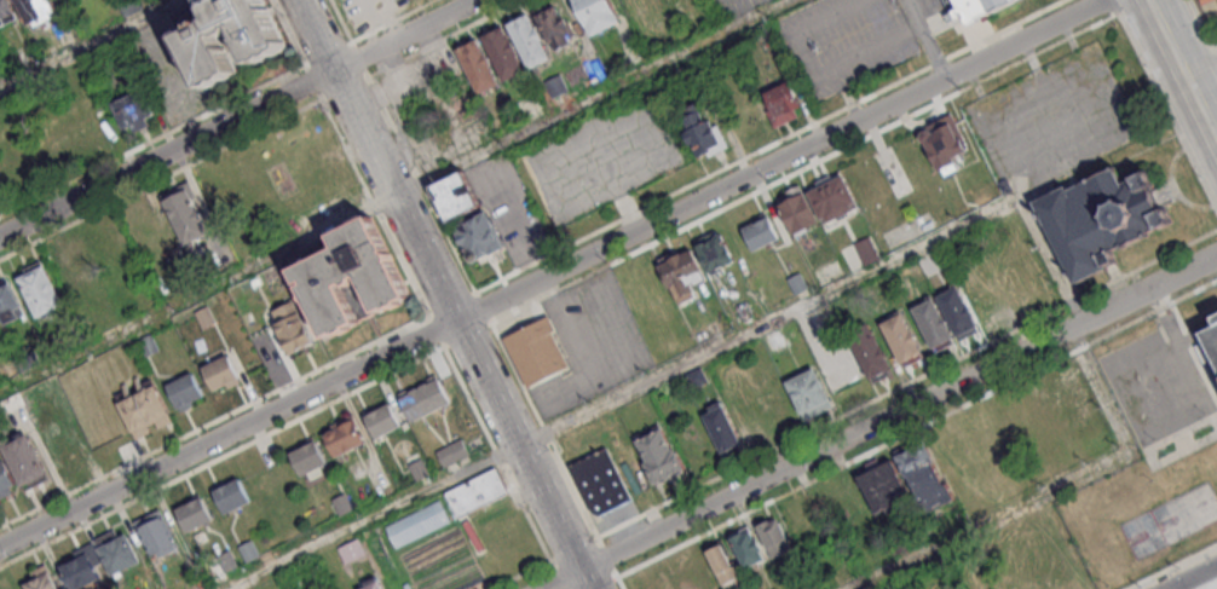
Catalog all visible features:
building: (634, 4)
building: (131, 6)
parking lot: (933, 6)
parking lot: (933, 6)
parking lot: (362, 7)
parking lot: (738, 7)
road: (1117, 7)
building: (40, 10)
building: (981, 10)
parking lot: (1211, 11)
building: (7, 12)
building: (598, 13)
road: (340, 21)
road: (392, 21)
road: (1202, 25)
building: (555, 27)
road: (290, 33)
building: (225, 34)
road: (442, 37)
road: (927, 39)
building: (530, 41)
parking lot: (846, 41)
road: (90, 45)
road: (328, 52)
building: (504, 53)
road: (359, 58)
building: (479, 67)
road: (1183, 68)
parking lot: (168, 73)
road: (813, 73)
road: (313, 81)
building: (556, 86)
road: (344, 87)
road: (590, 94)
building: (784, 103)
parking lot: (436, 106)
building: (133, 109)
road: (1169, 114)
road: (240, 119)
parking lot: (1054, 119)
building: (705, 135)
road: (154, 140)
building: (944, 143)
road: (766, 144)
parking lot: (601, 155)
road: (806, 168)
road: (160, 177)
road: (420, 184)
building: (456, 197)
building: (834, 197)
road: (373, 207)
parking lot: (511, 209)
building: (797, 210)
building: (186, 213)
parking lot: (318, 214)
building: (1100, 219)
building: (761, 231)
building: (479, 236)
building: (866, 249)
building: (715, 253)
building: (74, 272)
road: (552, 273)
building: (682, 275)
building: (352, 277)
building: (798, 283)
building: (41, 290)
road: (444, 294)
road: (198, 295)
building: (8, 302)
road: (451, 304)
road: (483, 306)
building: (959, 312)
building: (206, 317)
road: (763, 323)
building: (934, 323)
building: (293, 329)
road: (436, 330)
road: (468, 333)
building: (902, 339)
building: (774, 340)
parking lot: (592, 343)
building: (149, 345)
building: (871, 351)
building: (1210, 351)
building: (540, 352)
building: (27, 362)
building: (221, 373)
building: (698, 377)
road: (906, 382)
parking lot: (1159, 385)
road: (1098, 388)
building: (185, 389)
building: (808, 392)
building: (1074, 393)
building: (425, 399)
building: (15, 402)
building: (146, 410)
building: (382, 421)
road: (878, 421)
road: (214, 422)
building: (723, 426)
road: (544, 431)
road: (917, 431)
building: (345, 435)
road: (496, 451)
building: (454, 452)
building: (661, 454)
road: (223, 455)
building: (310, 456)
building: (28, 460)
building: (420, 469)
building: (7, 478)
building: (925, 478)
building: (601, 483)
building: (883, 485)
building: (477, 491)
building: (231, 495)
building: (342, 504)
building: (195, 512)
park: (1186, 513)
road: (375, 516)
road: (990, 519)
building: (417, 522)
building: (157, 532)
park: (1142, 536)
building: (775, 537)
road: (572, 547)
crop: (429, 548)
building: (746, 548)
building: (248, 550)
building: (352, 550)
building: (119, 552)
road: (608, 559)
building: (227, 561)
building: (723, 565)
building: (85, 566)
road: (1173, 567)
road: (519, 573)
road: (556, 573)
road: (1193, 577)
building: (42, 578)
road: (607, 583)
road: (621, 583)
building: (373, 584)
road: (1216, 588)

